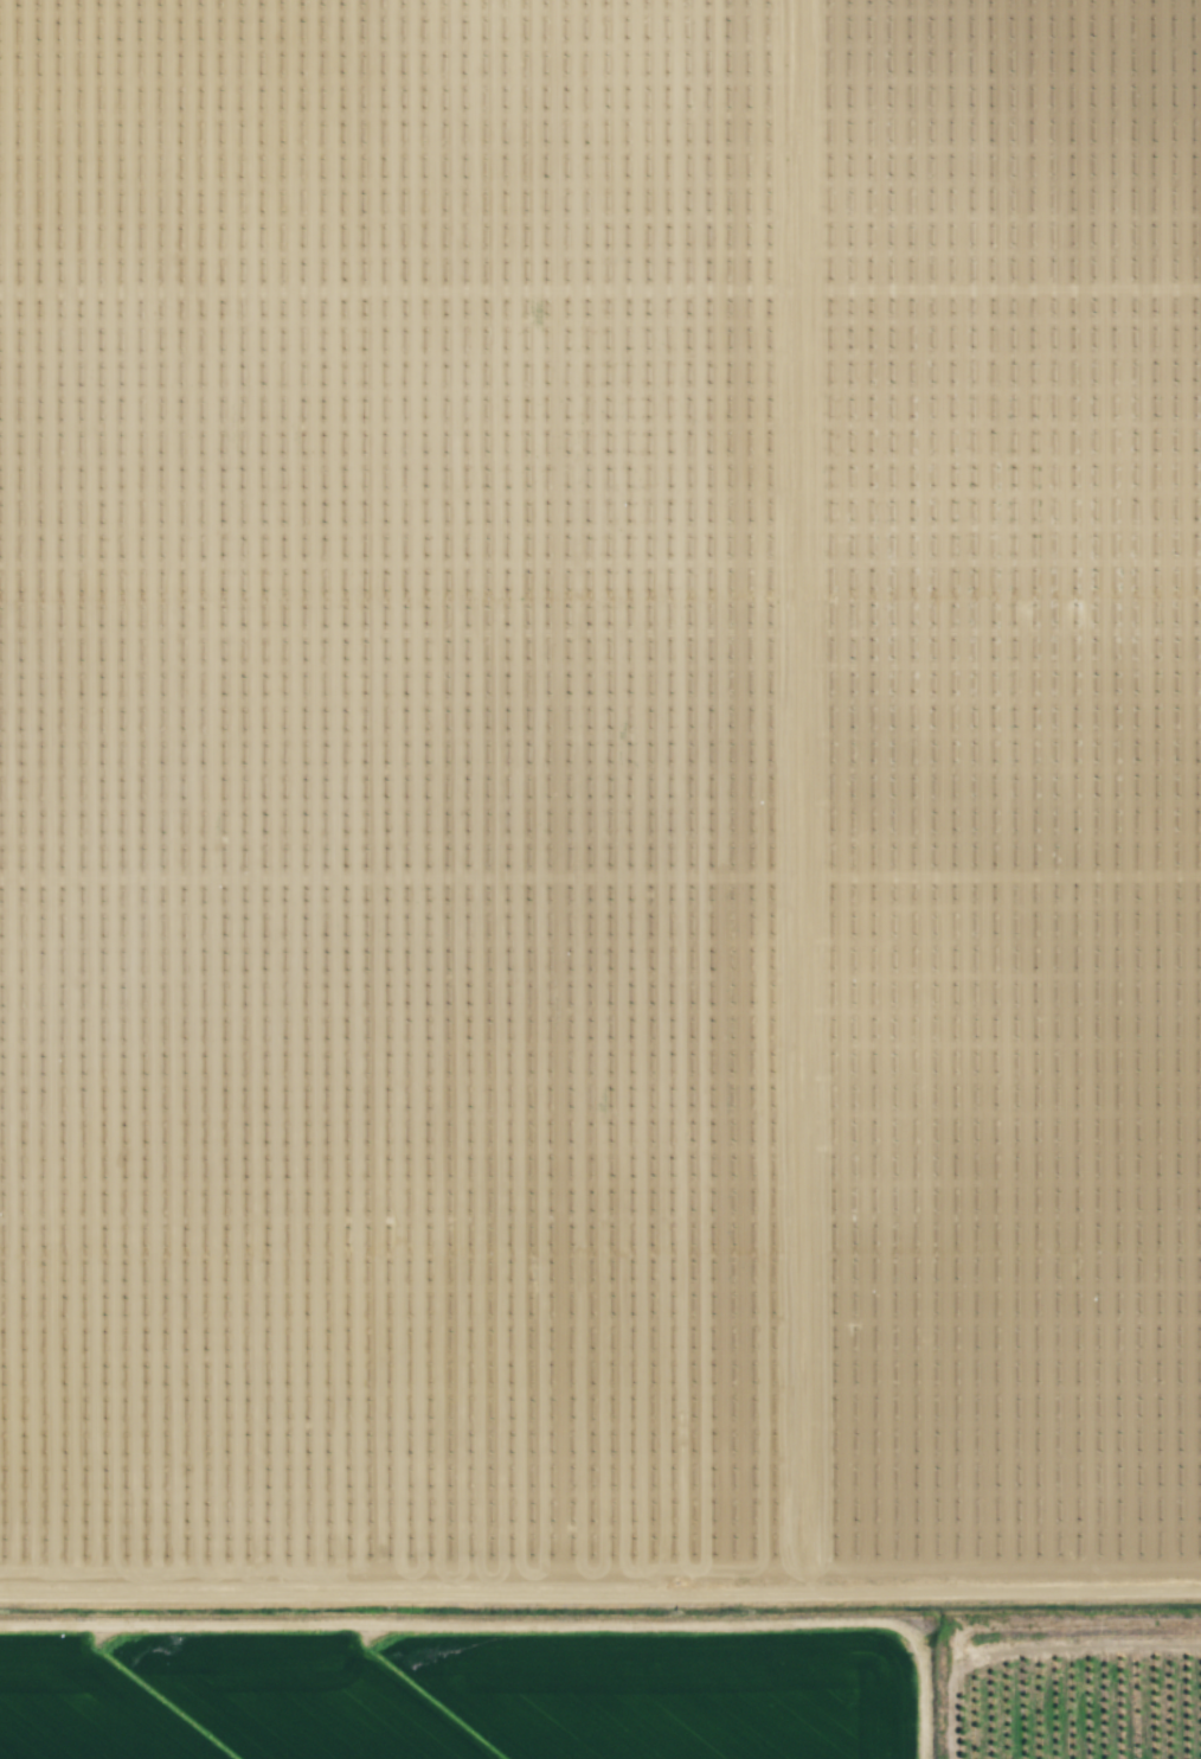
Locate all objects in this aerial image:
road: (519, 1625)

